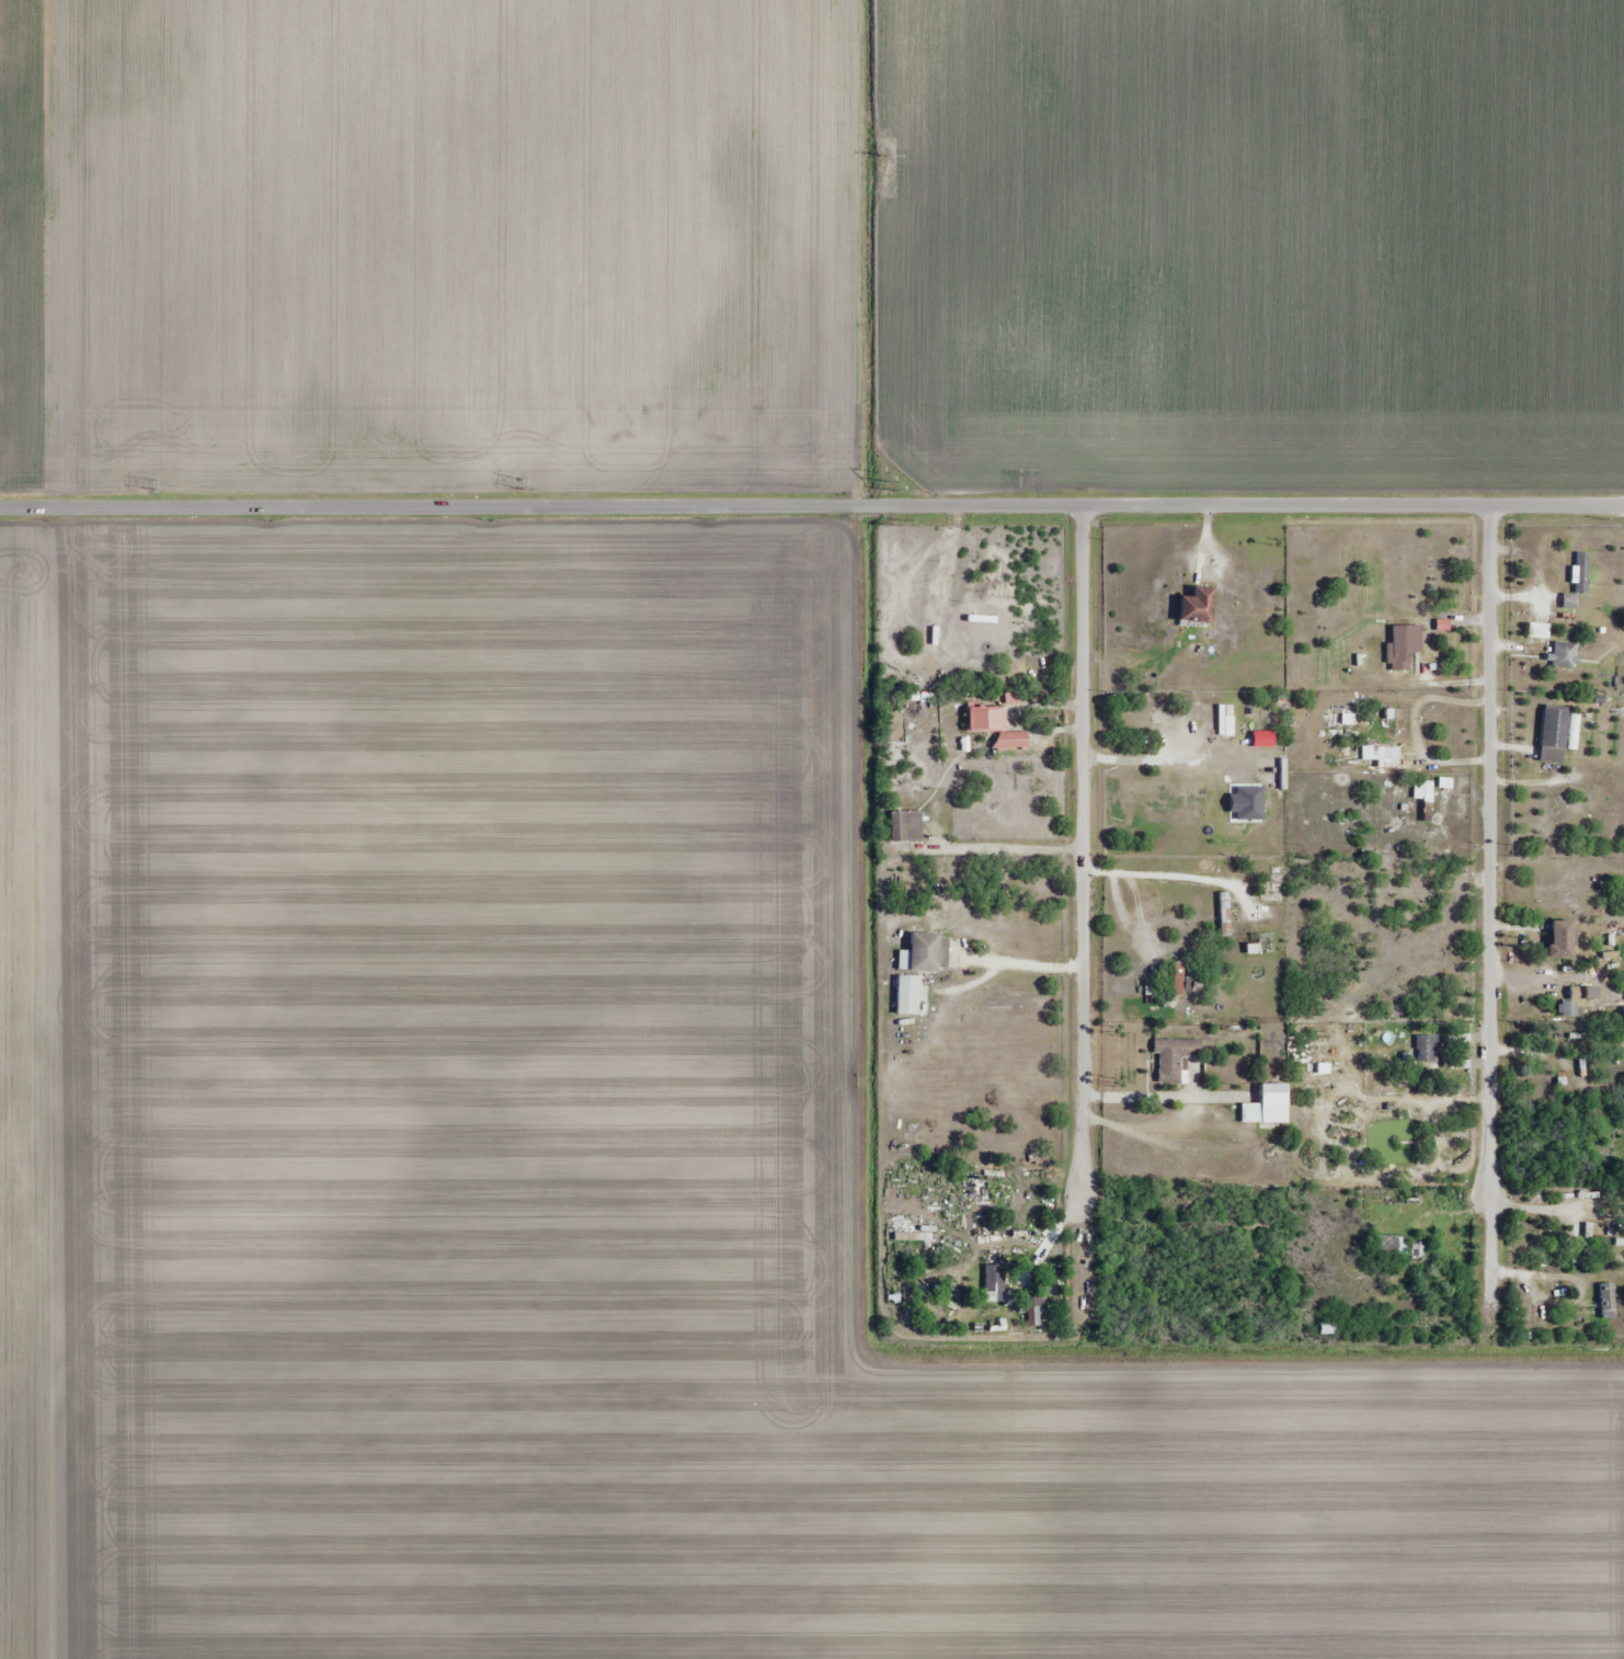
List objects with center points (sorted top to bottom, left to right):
power tower: (884, 158)
power tower: (883, 479)
power tower: (151, 483)
power tower: (518, 483)
road: (812, 506)
building: (1578, 579)
building: (1198, 606)
building: (1405, 644)
building: (1564, 655)
building: (986, 720)
building: (1226, 721)
building: (1554, 735)
building: (1428, 802)
building: (1558, 812)
building: (907, 826)
road: (1489, 849)
road: (1082, 851)
building: (1562, 940)
building: (908, 995)
building: (1568, 1009)
building: (1428, 1050)
building: (1175, 1057)
building: (1268, 1107)
building: (1589, 1240)
building: (1620, 1243)
building: (1393, 1246)
building: (1417, 1248)
building: (1000, 1290)
building: (1608, 1301)
building: (1535, 1304)
building: (1522, 1309)
building: (1036, 1313)
building: (1327, 1329)

